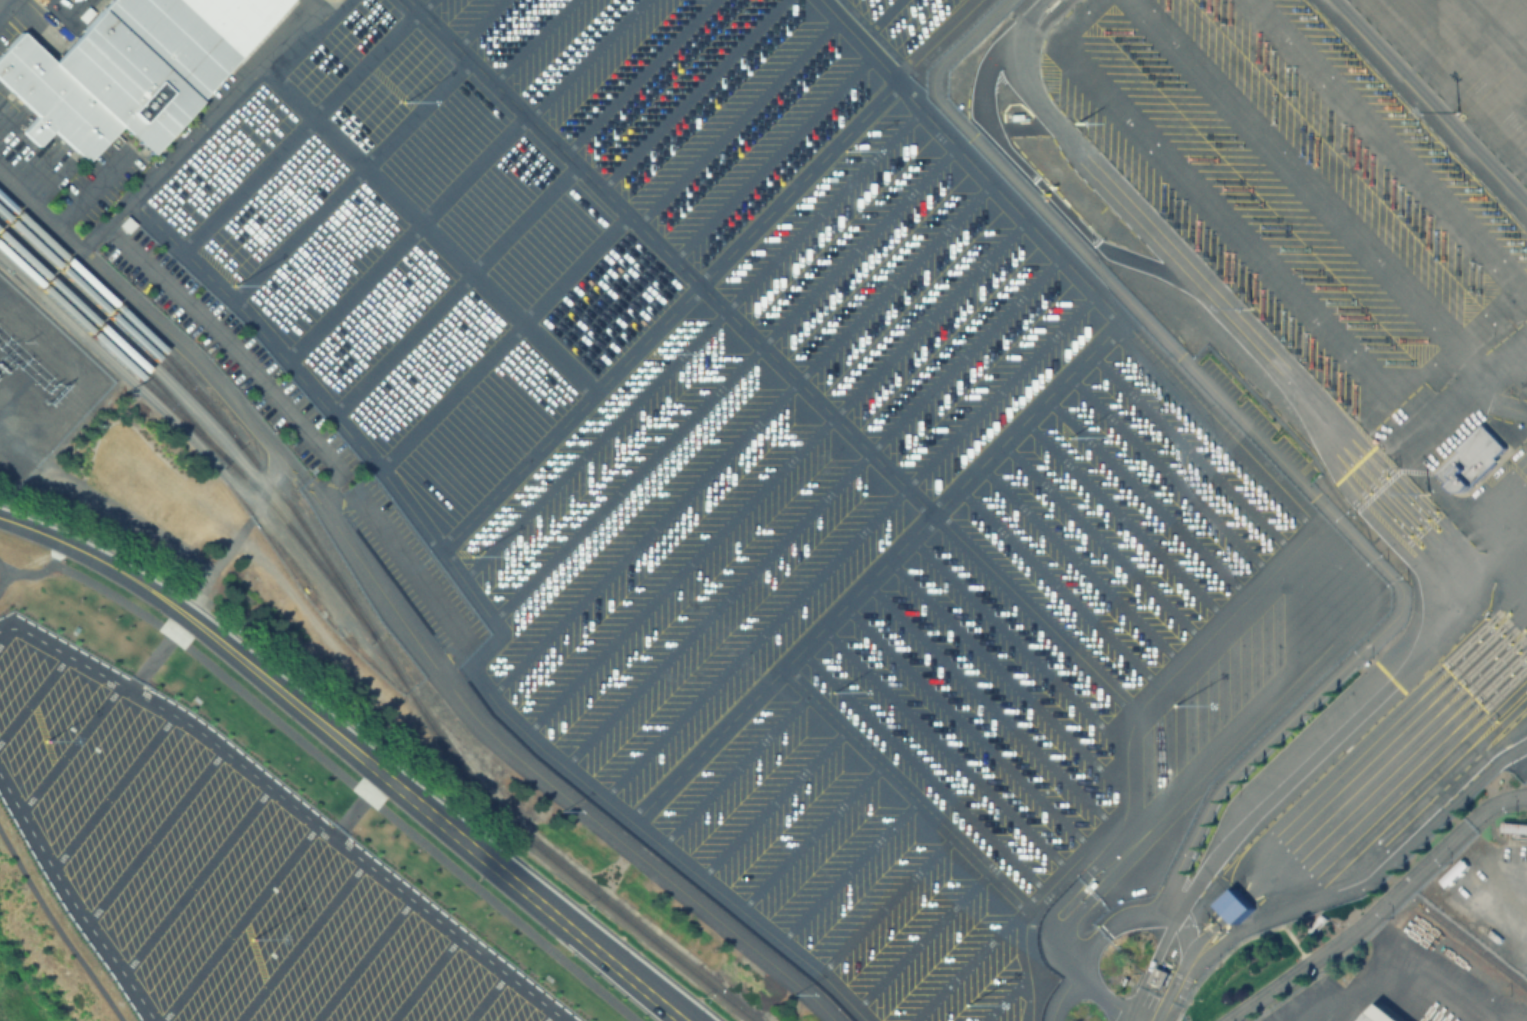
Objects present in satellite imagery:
road: (315, 1)
road: (425, 6)
road: (884, 16)
road: (476, 21)
road: (945, 37)
road: (530, 39)
road: (583, 56)
road: (638, 75)
building: (115, 76)
road: (693, 93)
road: (1427, 104)
road: (742, 115)
building: (1016, 115)
road: (197, 124)
road: (300, 132)
road: (777, 151)
road: (351, 177)
road: (804, 178)
road: (829, 203)
road: (425, 226)
road: (406, 234)
road: (865, 240)
road: (456, 287)
road: (159, 321)
railway: (121, 326)
road: (503, 339)
railway: (115, 342)
road: (244, 361)
power substation: (37, 384)
road: (815, 395)
railway: (203, 401)
road: (744, 431)
railway: (195, 432)
road: (546, 436)
road: (594, 441)
road: (1191, 453)
building: (1474, 459)
road: (1361, 465)
road: (781, 470)
road: (1169, 475)
road: (627, 479)
road: (1292, 479)
road: (1147, 497)
road: (817, 504)
road: (1124, 519)
road: (31, 527)
road: (854, 539)
road: (1103, 541)
road: (57, 551)
road: (1080, 563)
road: (412, 564)
road: (881, 564)
road: (2, 571)
road: (2, 580)
road: (1057, 585)
road: (1231, 612)
road: (4, 632)
road: (1019, 642)
road: (158, 653)
road: (1083, 658)
road: (1011, 678)
road: (32, 696)
road: (989, 701)
road: (967, 725)
road: (68, 747)
road: (945, 748)
road: (1516, 764)
road: (329, 766)
road: (736, 770)
road: (924, 770)
road: (380, 772)
road: (544, 777)
road: (113, 791)
road: (606, 799)
road: (773, 803)
road: (293, 805)
road: (357, 805)
road: (925, 809)
road: (1198, 819)
building: (1513, 829)
road: (154, 836)
road: (810, 837)
railway: (538, 848)
road: (1395, 859)
road: (846, 869)
building: (1457, 869)
road: (196, 879)
road: (1042, 895)
road: (72, 901)
road: (885, 904)
building: (1235, 905)
road: (1378, 906)
building: (1240, 919)
road: (1179, 921)
road: (240, 922)
road: (56, 928)
road: (300, 941)
road: (922, 941)
railway: (1472, 948)
road: (1182, 952)
road: (1417, 955)
road: (362, 959)
road: (971, 966)
road: (1073, 968)
building: (1162, 976)
road: (425, 978)
road: (1085, 983)
road: (486, 997)
road: (1006, 999)
road: (549, 1016)
building: (1372, 1017)

